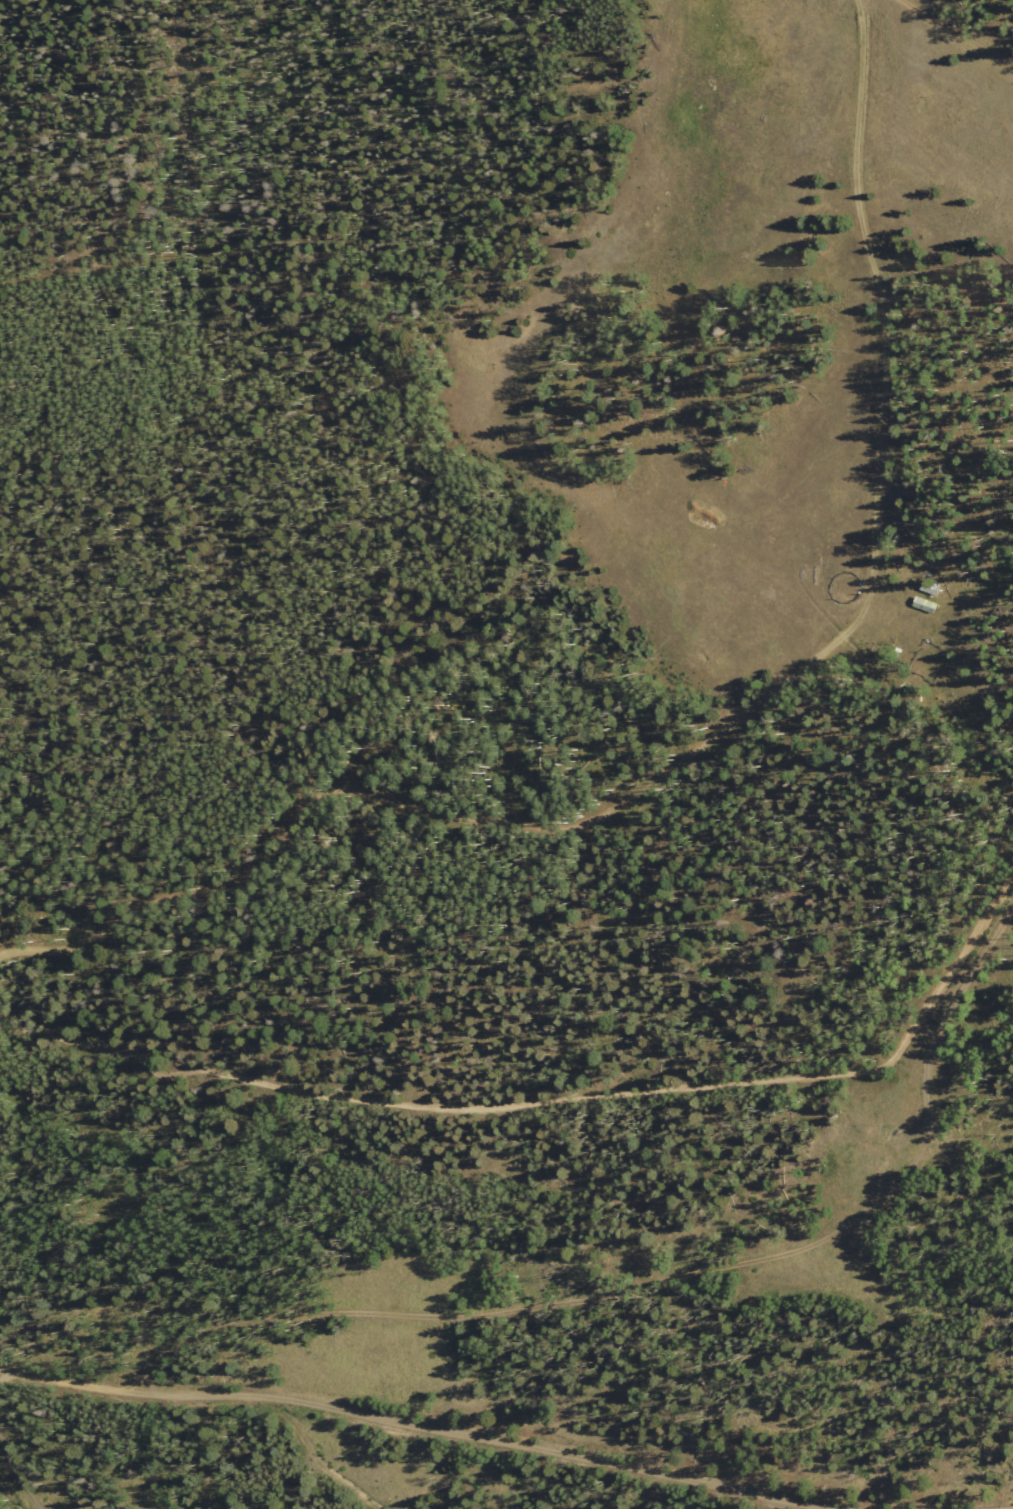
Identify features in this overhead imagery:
road: (21, 1061)
road: (553, 1138)
road: (4, 1375)
road: (390, 1438)
road: (15, 1471)
road: (1000, 1507)

